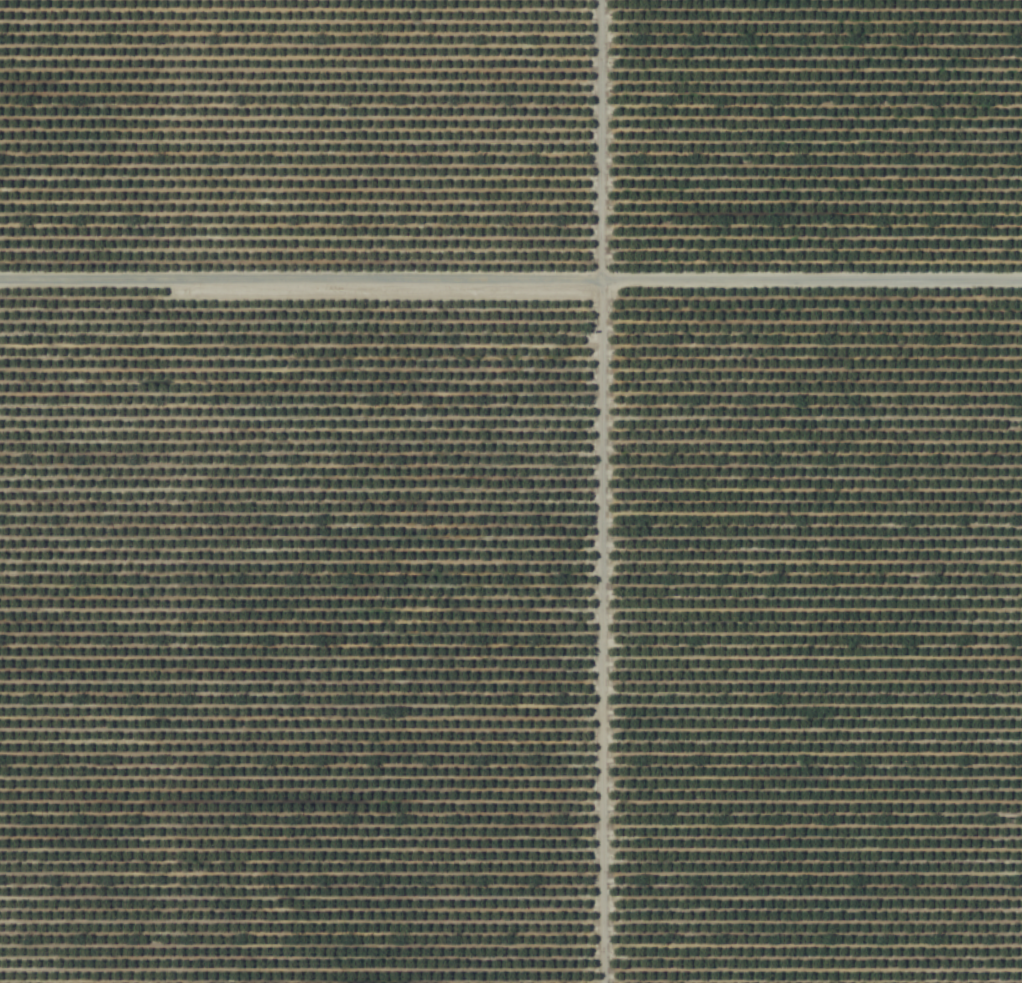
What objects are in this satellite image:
road: (510, 283)
crop: (511, 491)
road: (598, 491)

